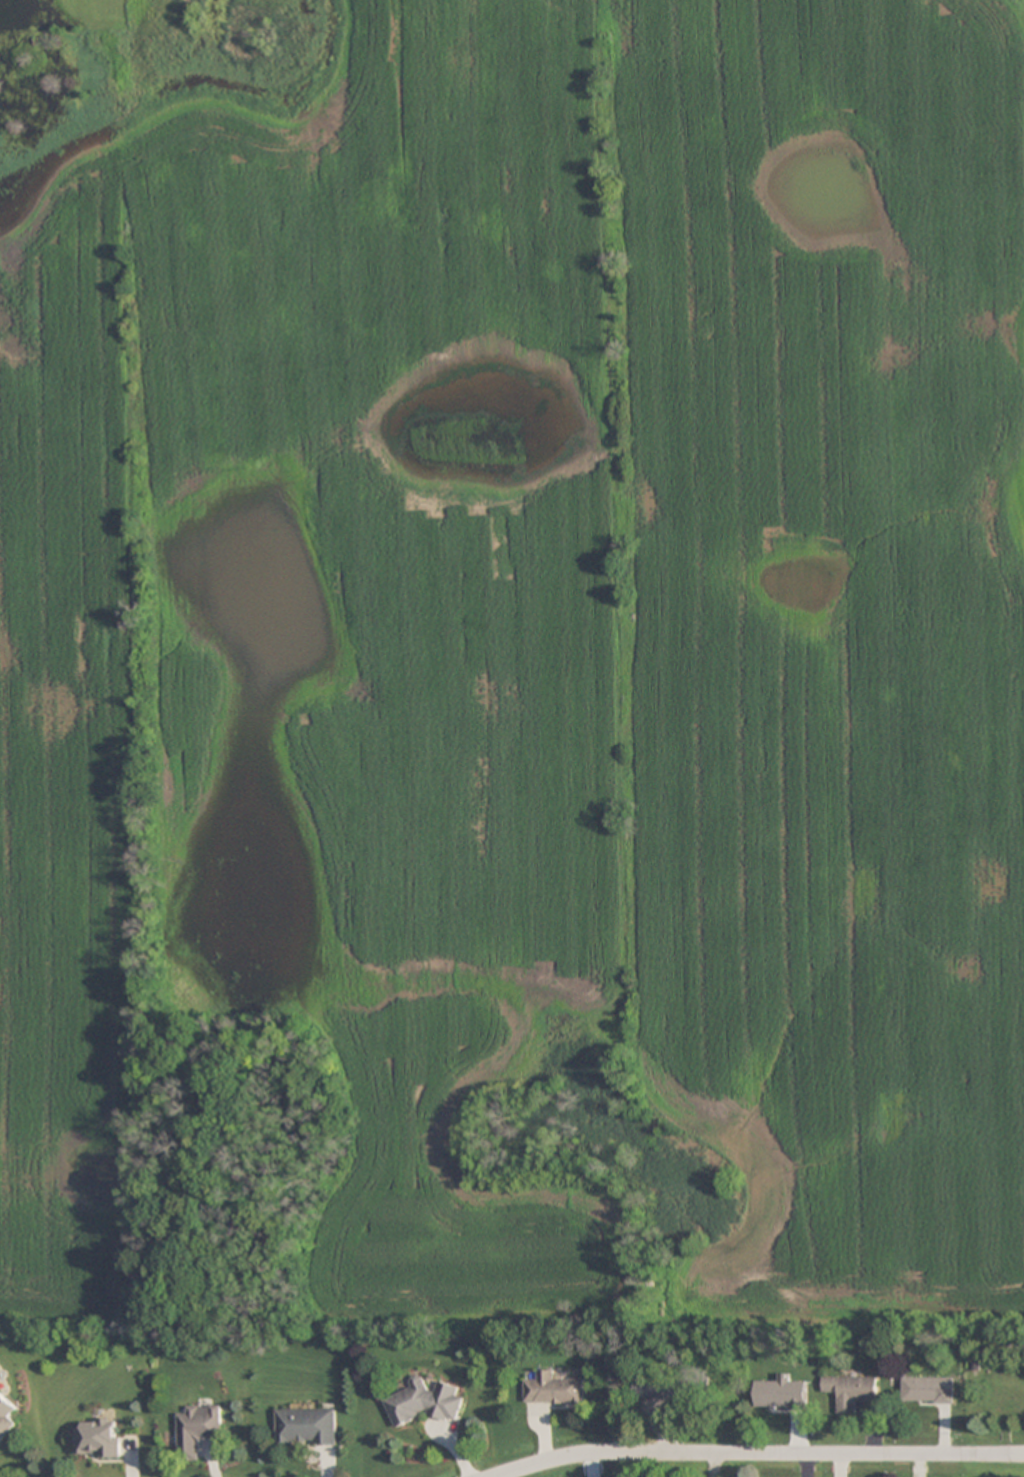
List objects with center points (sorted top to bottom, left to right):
crop: (525, 640)
building: (658, 1386)
building: (554, 1390)
building: (927, 1390)
building: (850, 1391)
building: (425, 1402)
building: (6, 1417)
building: (306, 1427)
building: (198, 1430)
building: (98, 1439)
road: (761, 1454)

